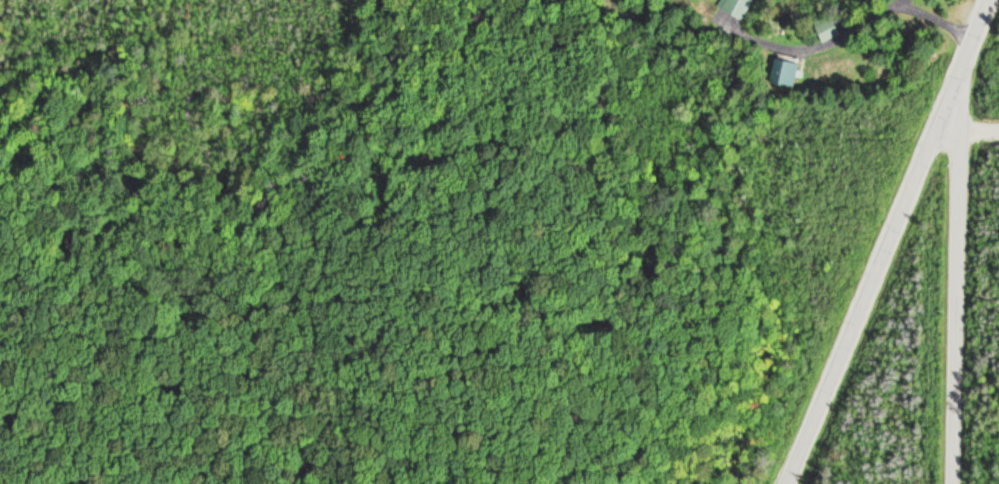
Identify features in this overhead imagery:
road: (845, 29)
road: (978, 130)
road: (885, 241)
road: (954, 292)

